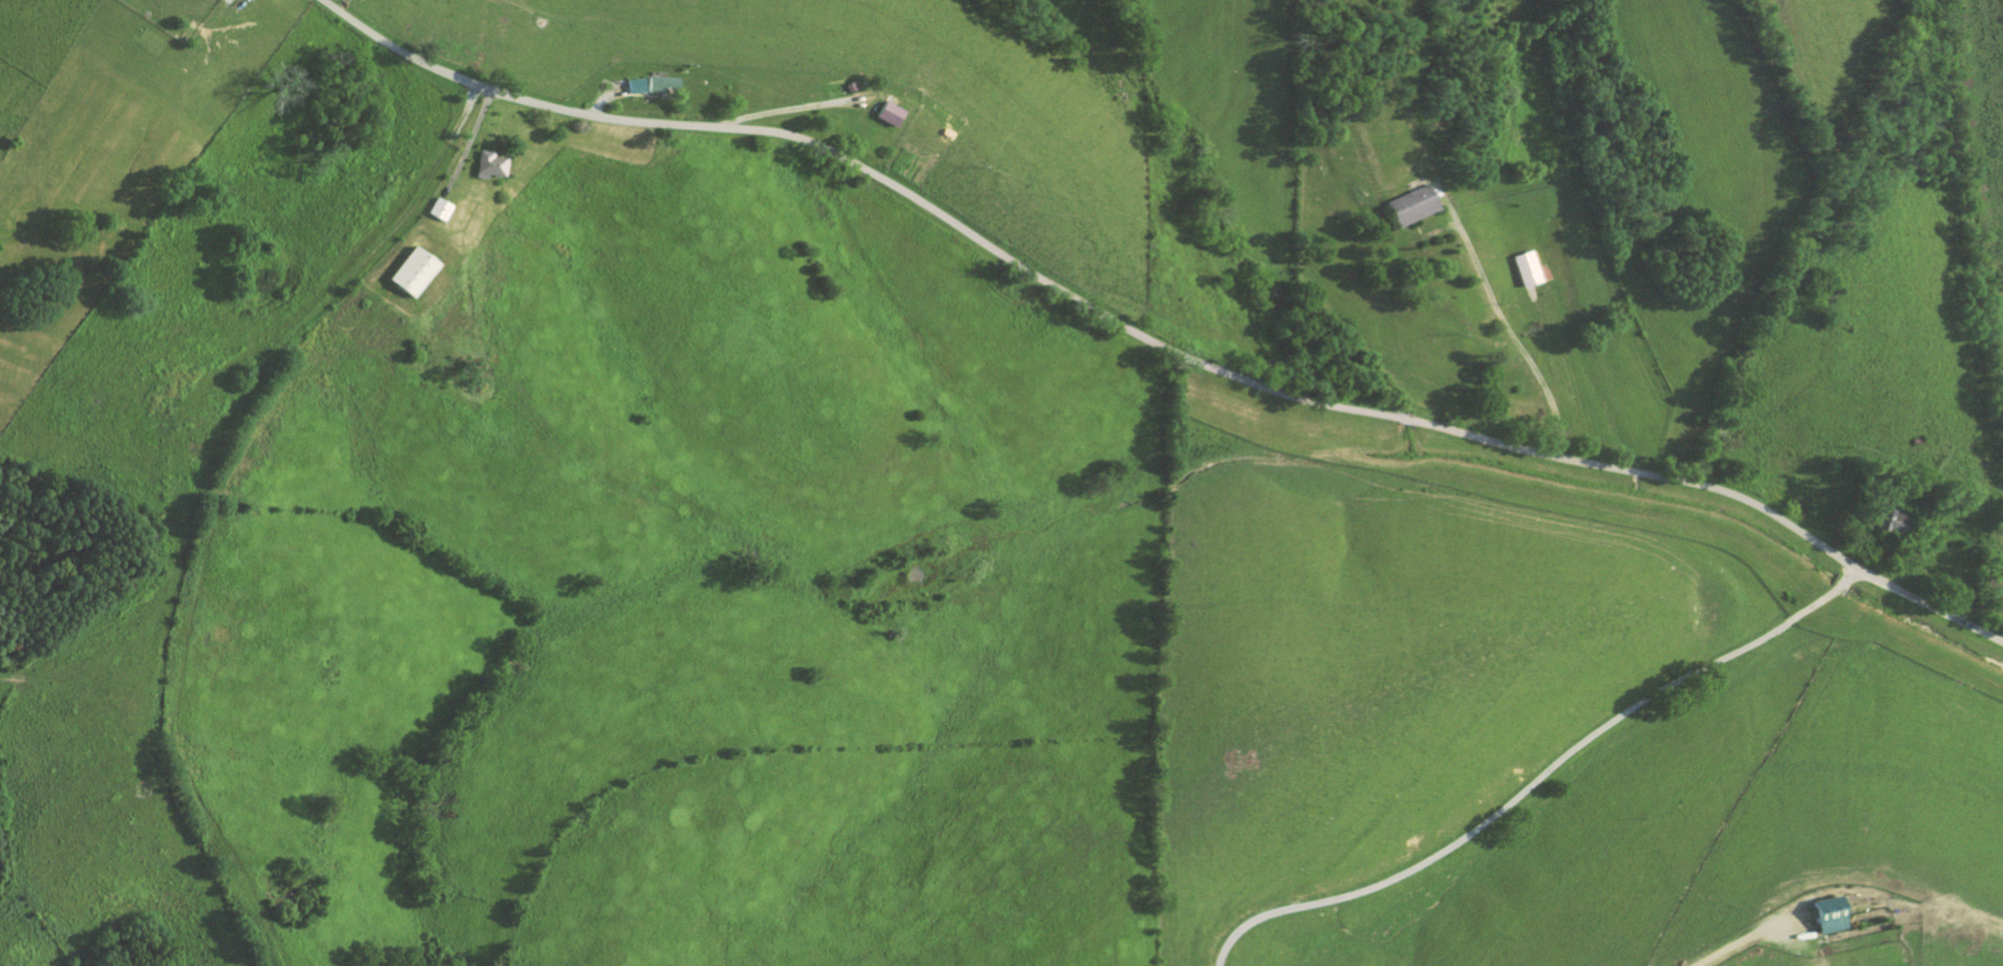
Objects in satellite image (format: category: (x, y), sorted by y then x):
building: (637, 85)
building: (664, 85)
building: (891, 113)
building: (494, 164)
building: (1416, 205)
building: (1530, 268)
building: (417, 271)
road: (1148, 343)
road: (249, 506)

